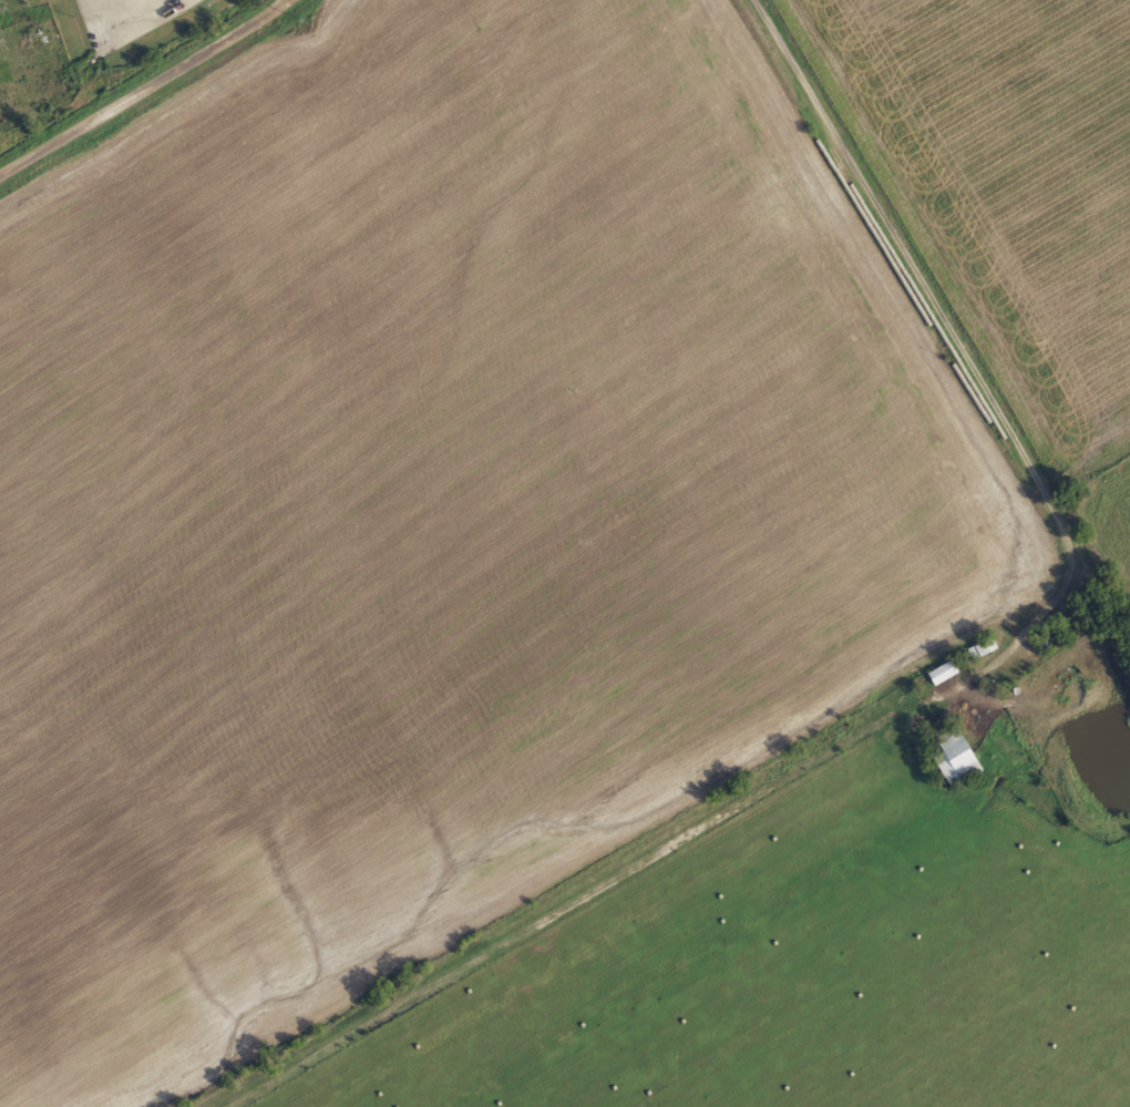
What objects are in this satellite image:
road: (146, 92)
road: (923, 326)
building: (945, 673)
building: (958, 758)

